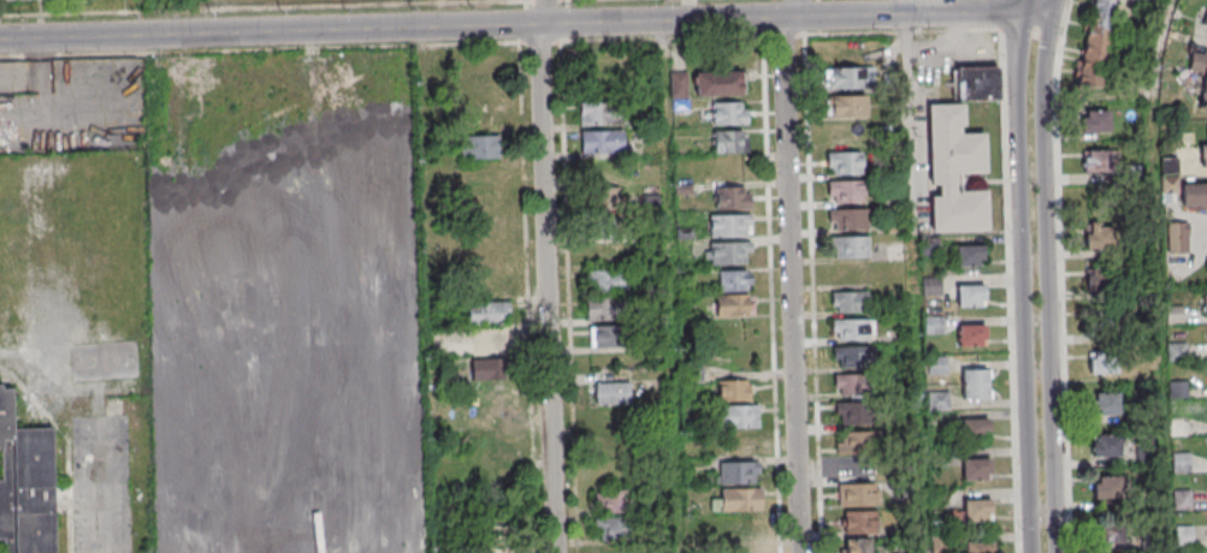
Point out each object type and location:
building: (1140, 2)
road: (284, 7)
road: (915, 7)
road: (676, 10)
road: (526, 24)
building: (1096, 42)
road: (71, 57)
building: (1200, 77)
building: (846, 78)
building: (977, 82)
building: (720, 83)
building: (679, 84)
building: (847, 106)
building: (602, 113)
building: (729, 113)
building: (1095, 120)
building: (600, 141)
building: (729, 141)
building: (480, 145)
building: (1203, 153)
building: (1096, 160)
building: (844, 162)
building: (954, 170)
building: (845, 191)
building: (1189, 194)
building: (604, 196)
building: (732, 197)
building: (848, 219)
building: (729, 225)
building: (604, 228)
building: (1099, 237)
building: (1177, 238)
building: (851, 246)
building: (728, 252)
building: (969, 255)
road: (793, 274)
road: (548, 275)
road: (1020, 275)
road: (1046, 275)
road: (1158, 275)
building: (1101, 279)
building: (605, 280)
building: (733, 280)
road: (670, 286)
road: (428, 290)
building: (970, 295)
building: (848, 301)
building: (733, 305)
building: (600, 308)
building: (487, 313)
building: (1176, 315)
building: (852, 328)
building: (971, 334)
building: (602, 337)
building: (486, 341)
building: (1178, 352)
building: (850, 356)
park: (106, 362)
building: (1102, 362)
building: (484, 368)
building: (848, 383)
building: (976, 383)
building: (733, 390)
building: (1179, 391)
building: (611, 392)
building: (1106, 403)
building: (848, 412)
building: (738, 416)
building: (975, 427)
building: (740, 444)
building: (1106, 445)
building: (603, 451)
building: (853, 453)
building: (1183, 463)
building: (975, 469)
building: (738, 471)
parking lot: (105, 484)
building: (25, 487)
building: (1107, 487)
road: (101, 488)
building: (858, 494)
building: (740, 498)
building: (611, 500)
building: (1183, 500)
building: (977, 510)
building: (857, 521)
building: (614, 528)
building: (1110, 533)
building: (1184, 536)
building: (857, 545)
building: (977, 547)
building: (740, 548)
building: (613, 549)
building: (498, 551)

